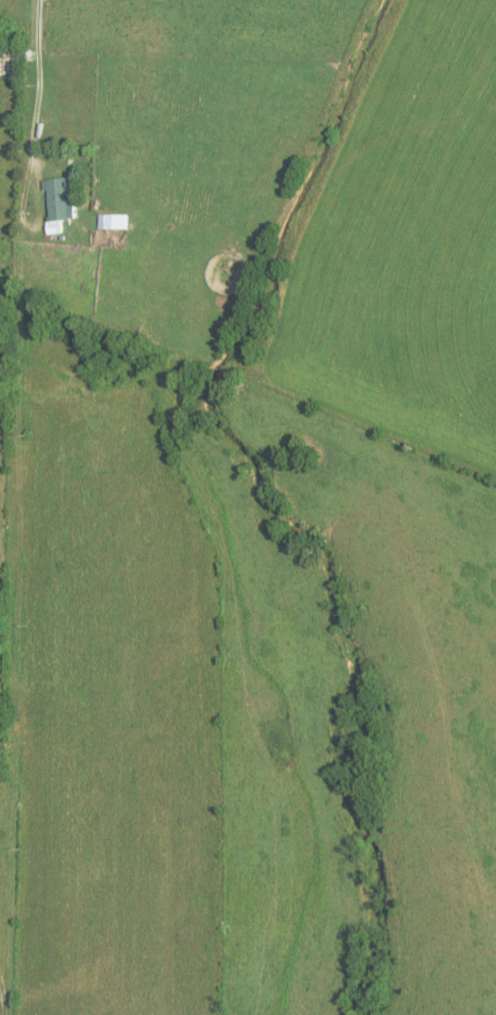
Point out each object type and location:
road: (39, 65)
building: (56, 203)
building: (107, 222)

